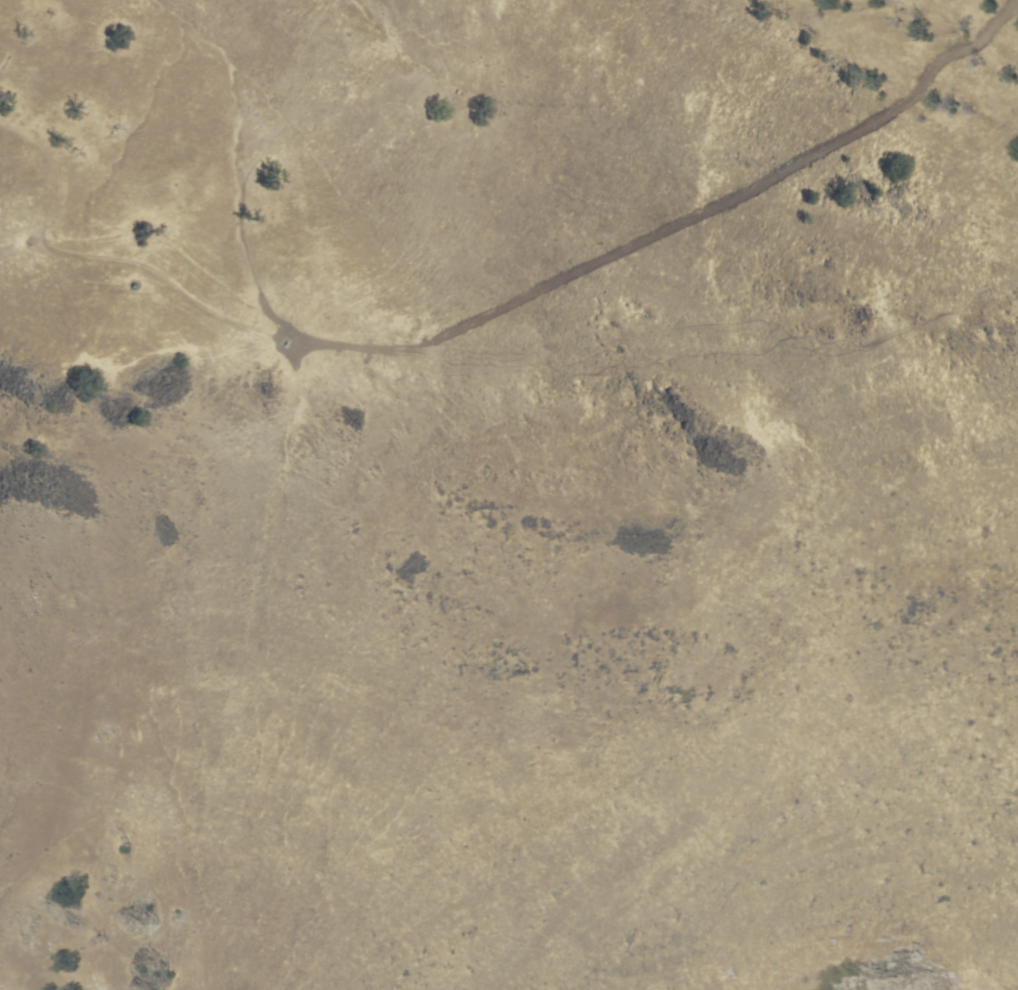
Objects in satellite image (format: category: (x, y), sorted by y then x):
road: (84, 261)

